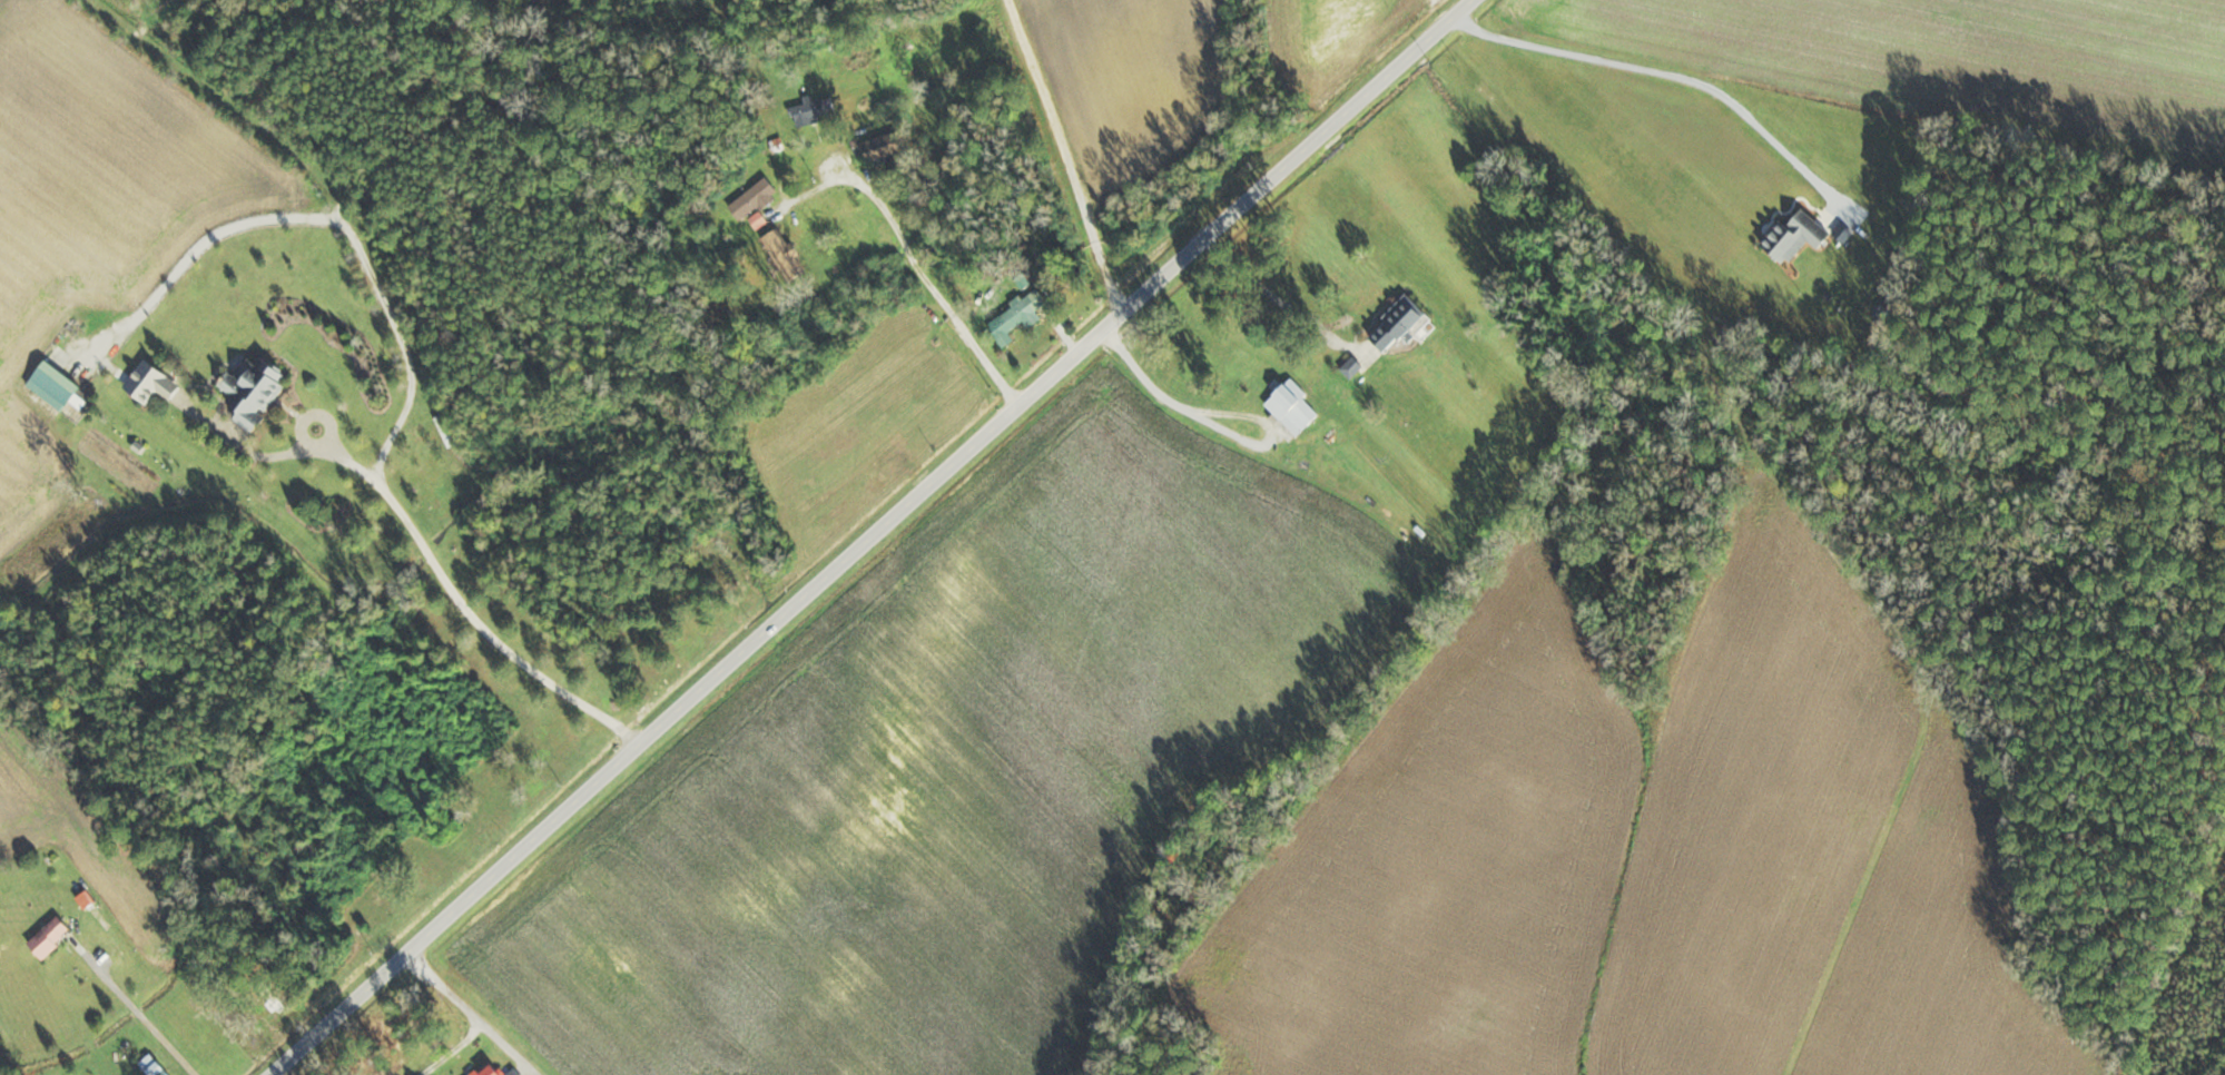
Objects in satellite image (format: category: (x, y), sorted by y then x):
building: (883, 145)
road: (1067, 156)
building: (754, 198)
building: (1795, 234)
building: (752, 267)
road: (928, 270)
building: (1016, 315)
building: (1397, 322)
building: (150, 381)
building: (63, 383)
building: (253, 387)
building: (1293, 405)
building: (442, 422)
road: (870, 536)
building: (49, 935)
road: (140, 1007)
road: (473, 1013)
building: (151, 1064)
building: (490, 1071)

